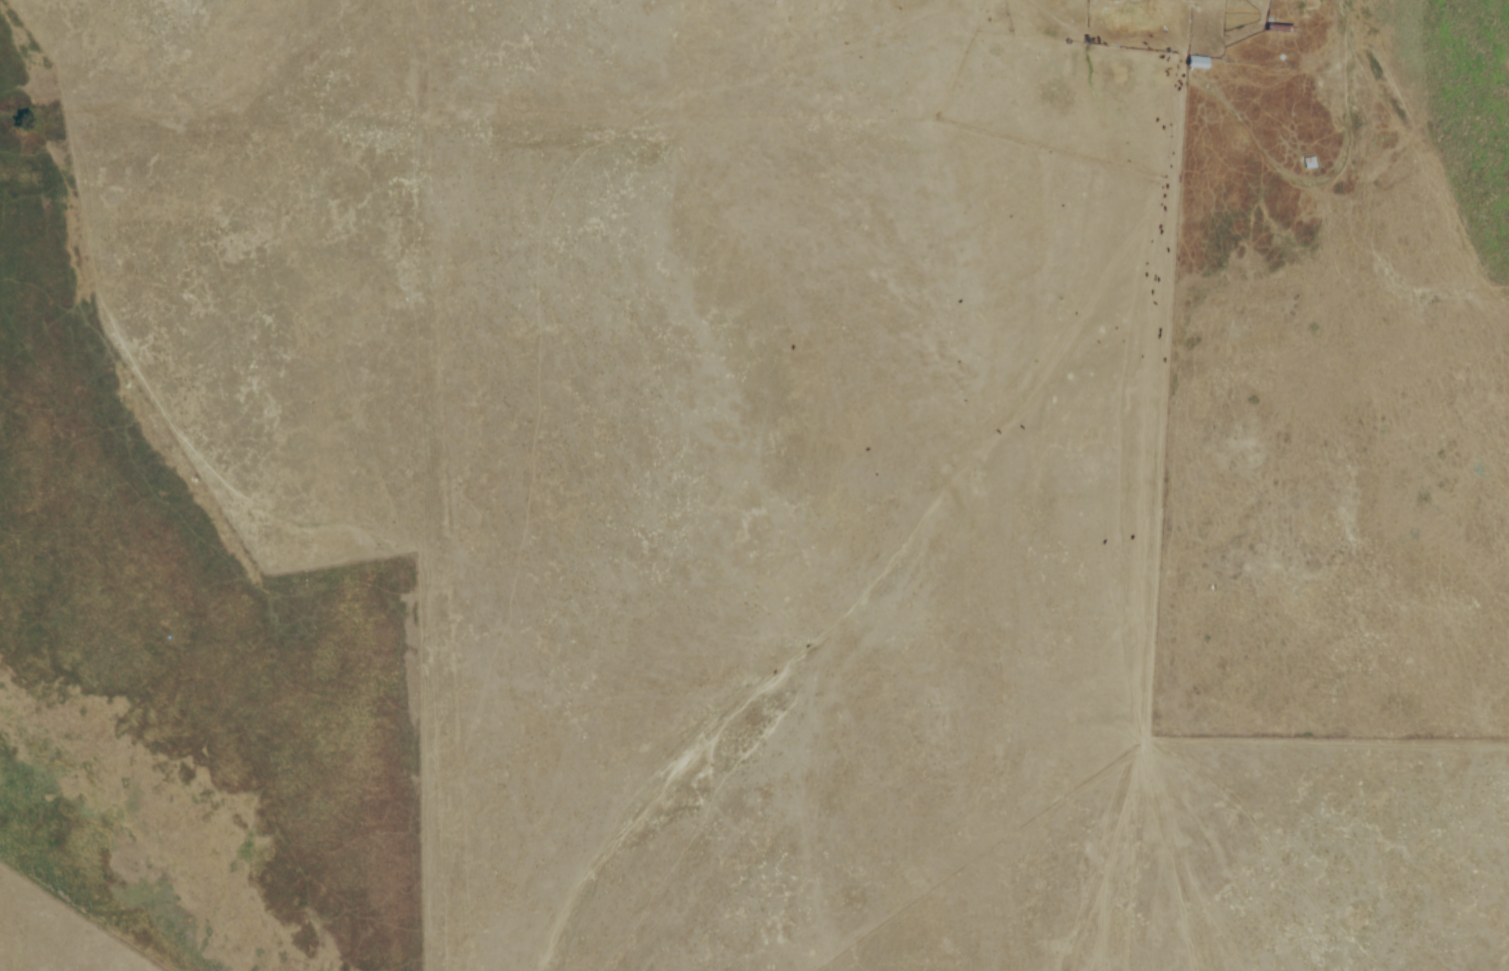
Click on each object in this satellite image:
building: (1198, 62)
building: (1311, 162)

